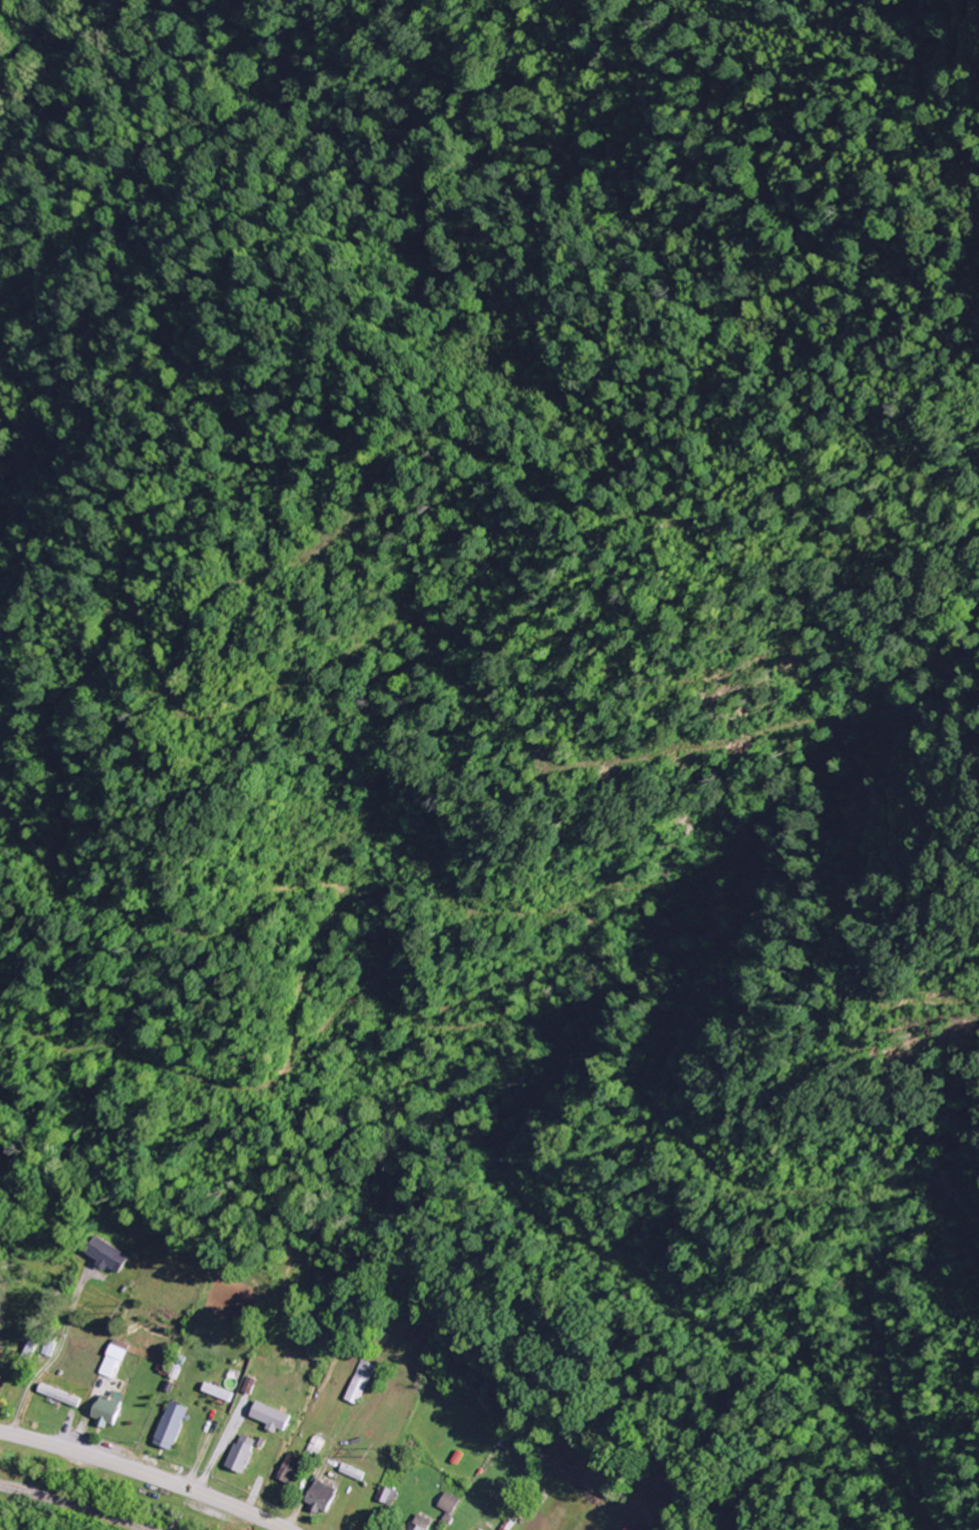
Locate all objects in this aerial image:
building: (106, 1256)
building: (114, 1359)
building: (4, 1382)
building: (358, 1382)
building: (218, 1392)
building: (113, 1408)
building: (274, 1416)
building: (174, 1424)
building: (243, 1453)
building: (293, 1468)
road: (146, 1473)
building: (388, 1494)
building: (325, 1497)
building: (450, 1502)
railway: (80, 1505)
building: (628, 1526)

